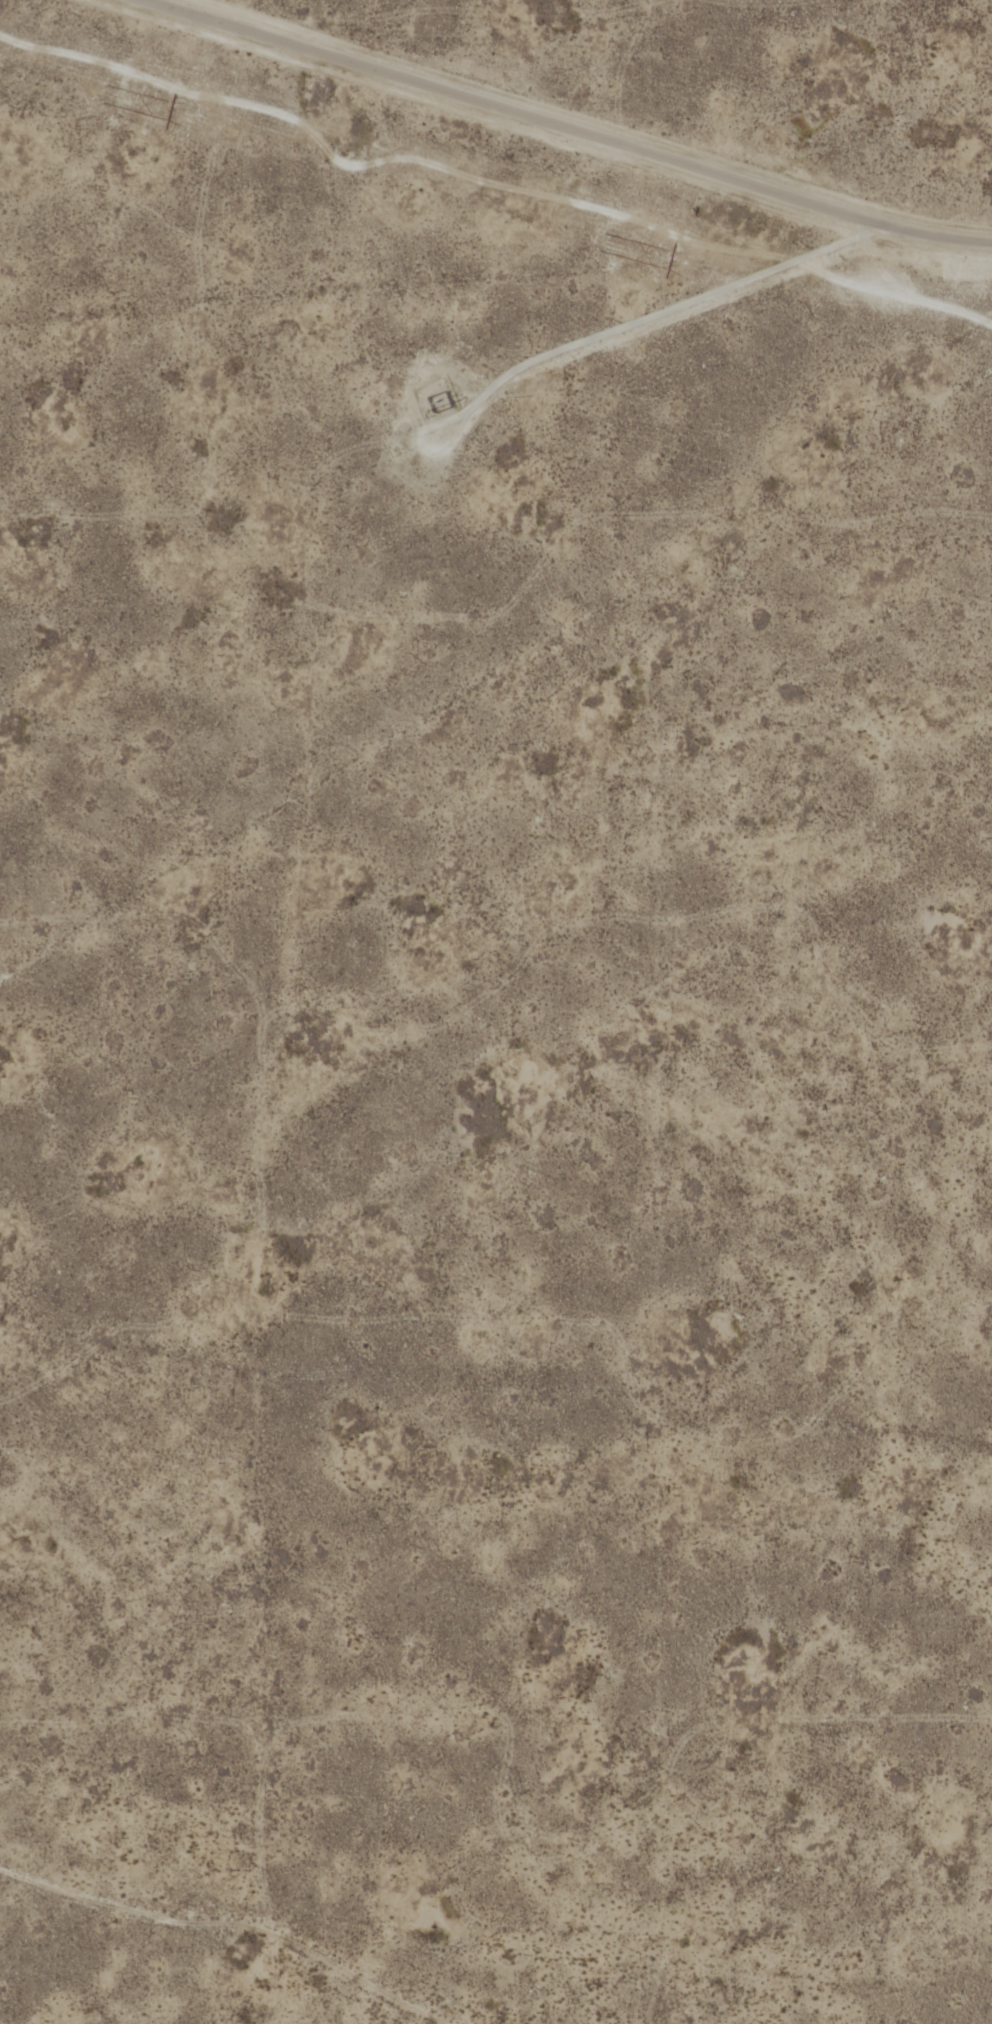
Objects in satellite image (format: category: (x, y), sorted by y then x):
road: (564, 128)
road: (81, 1990)

